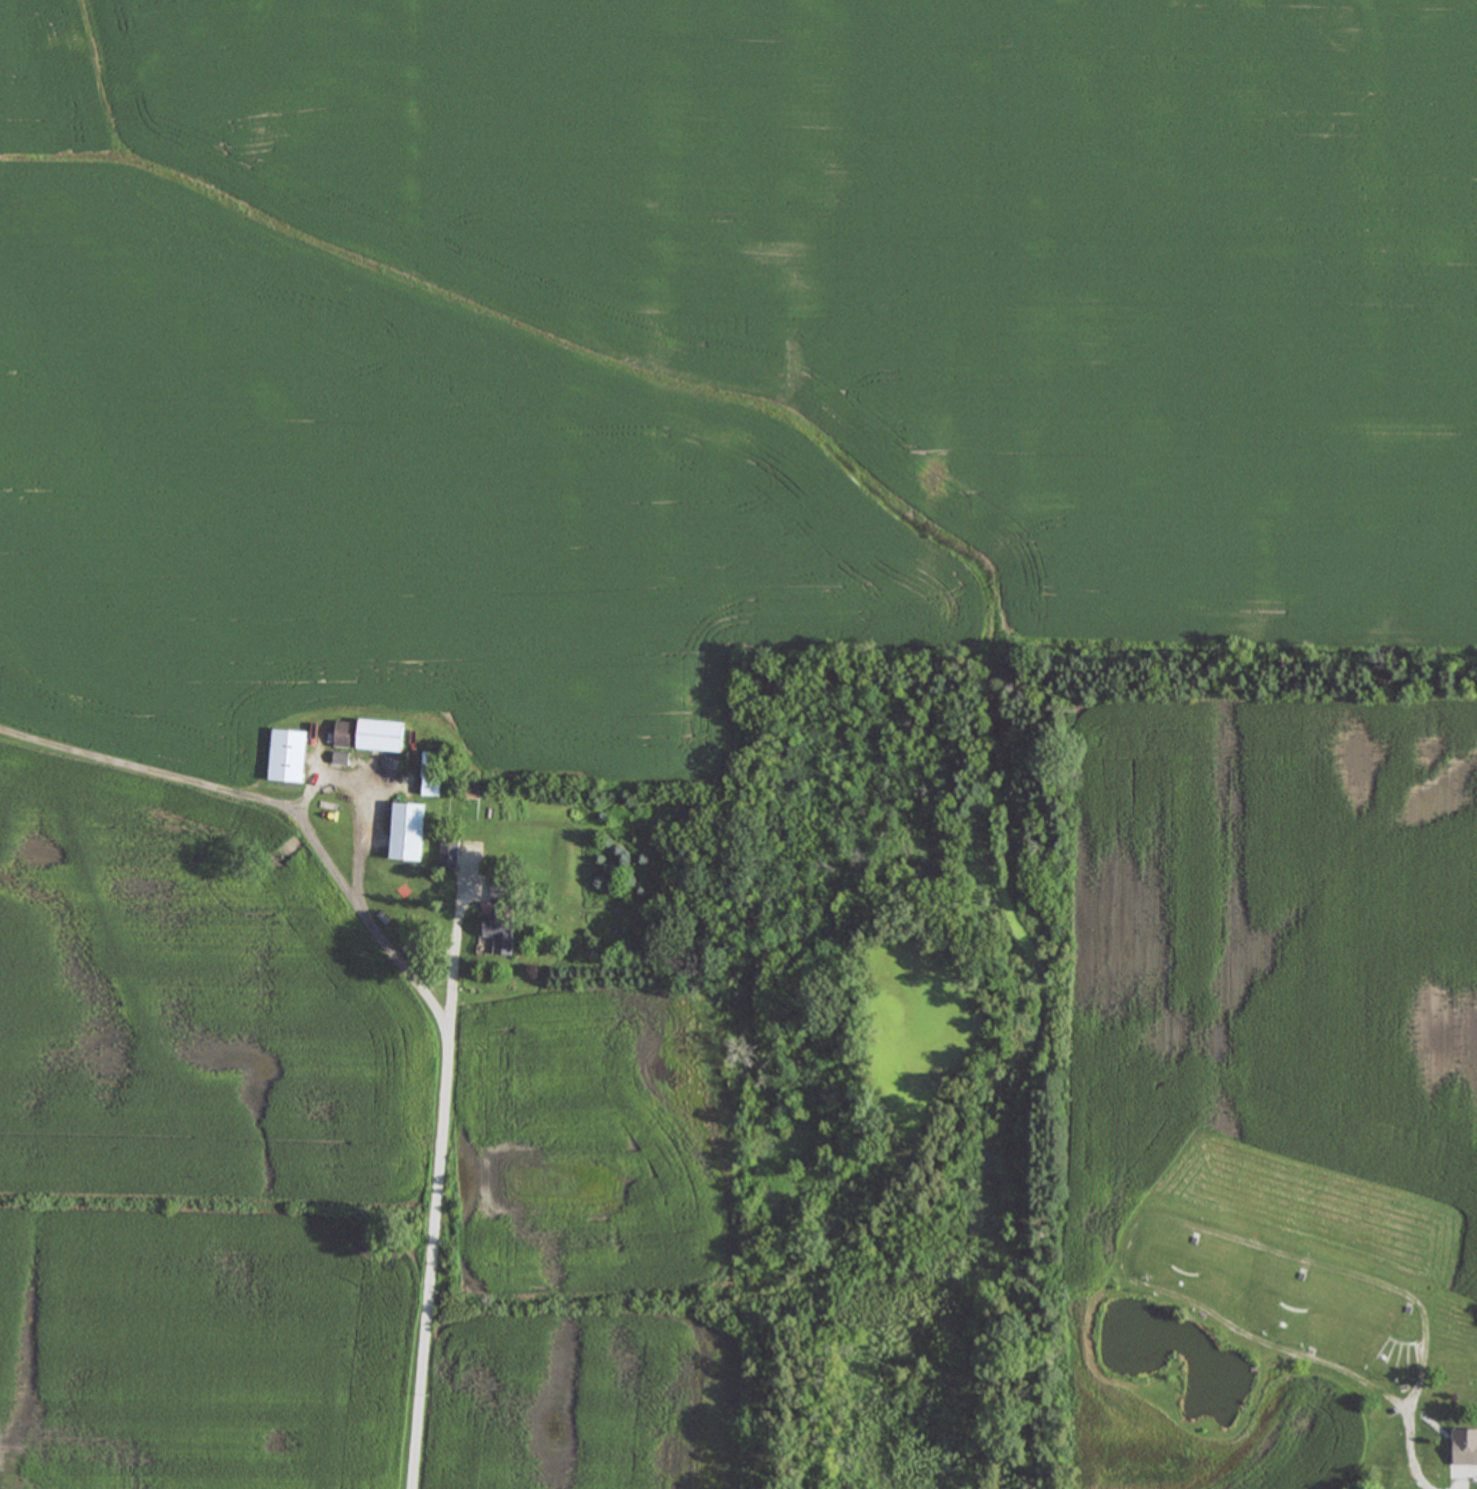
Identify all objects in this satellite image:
building: (375, 737)
building: (292, 757)
building: (344, 760)
building: (437, 775)
building: (412, 833)
building: (451, 856)
building: (505, 924)
road: (455, 944)
road: (416, 982)
building: (1460, 1448)

